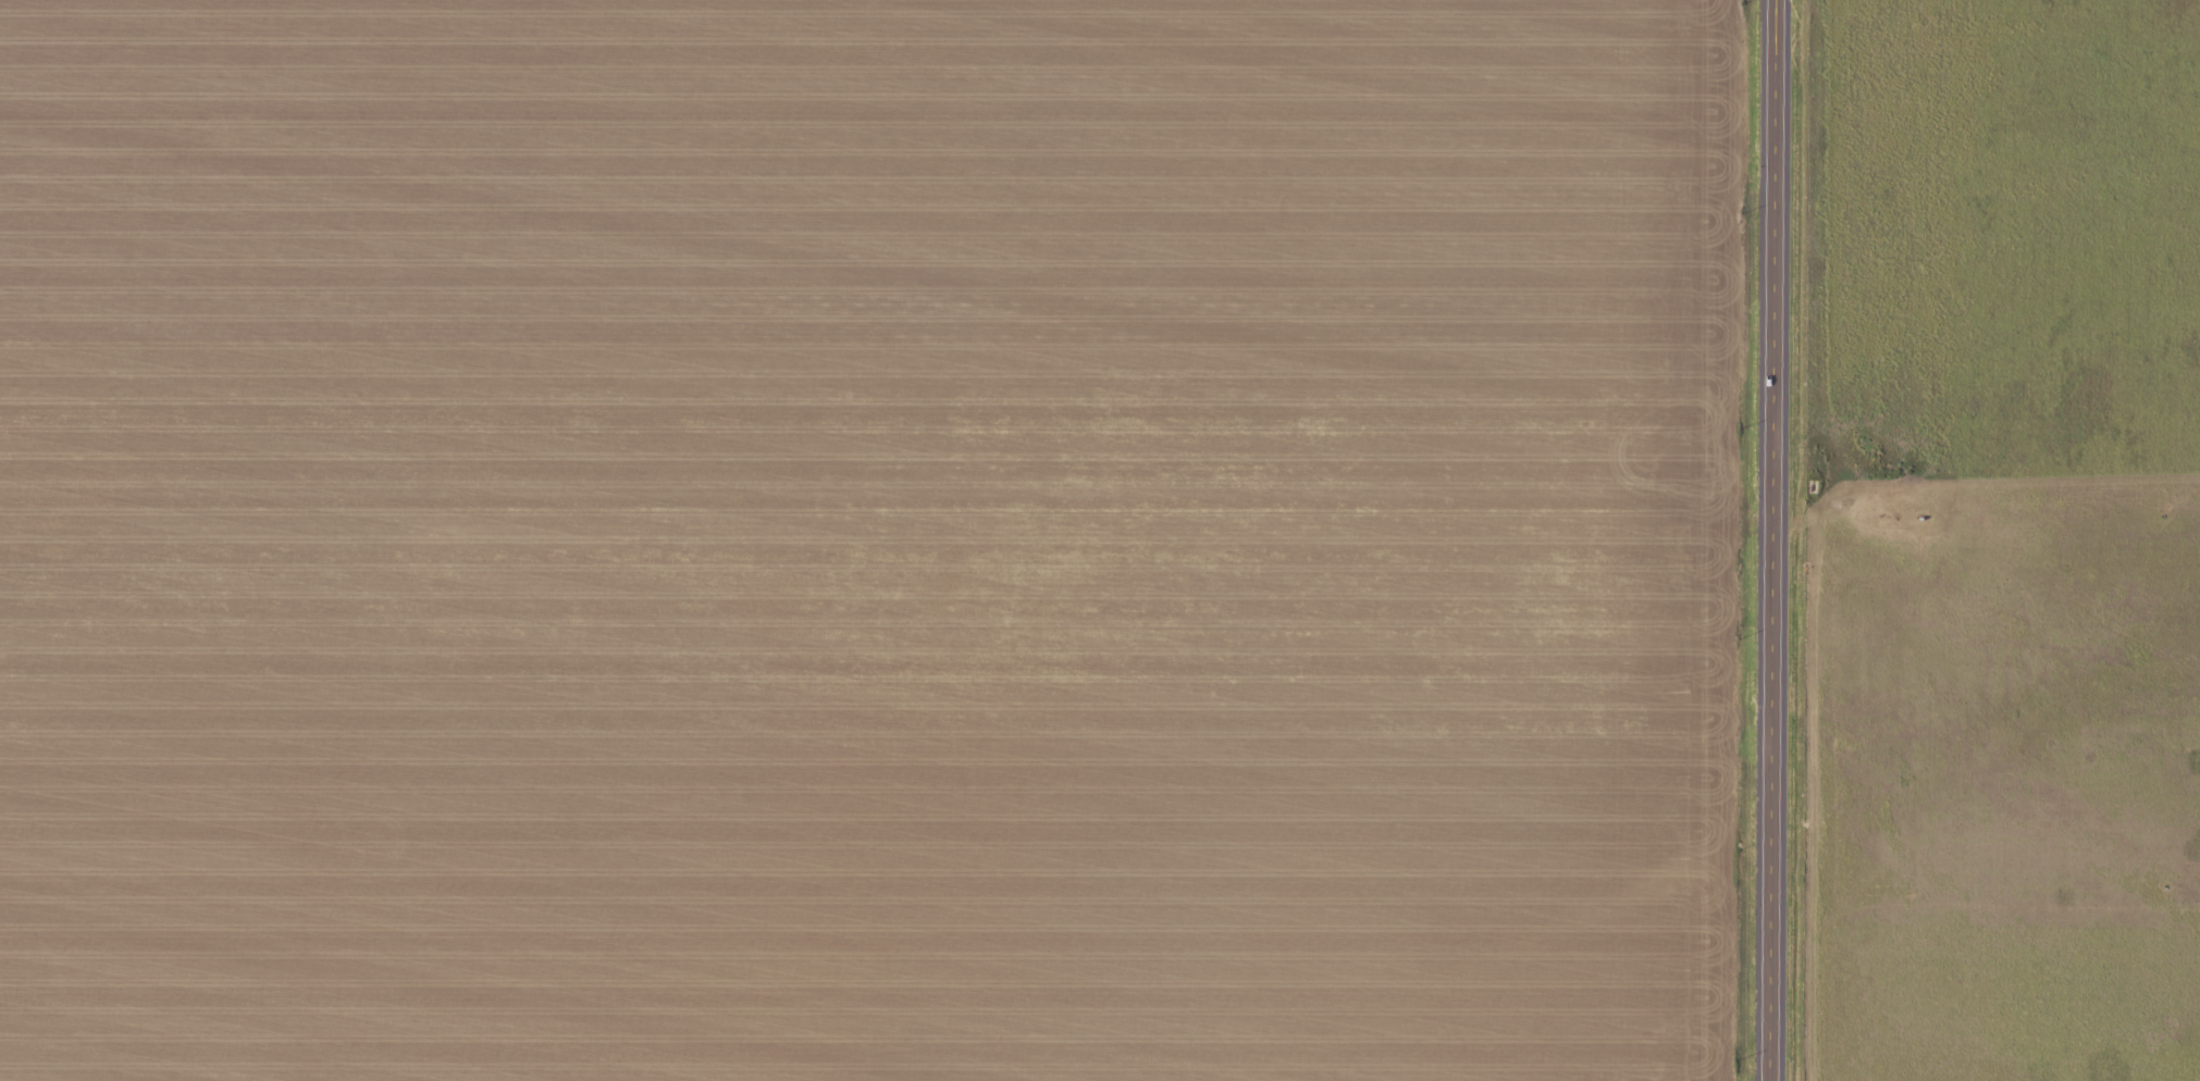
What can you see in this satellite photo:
road: (1772, 540)

